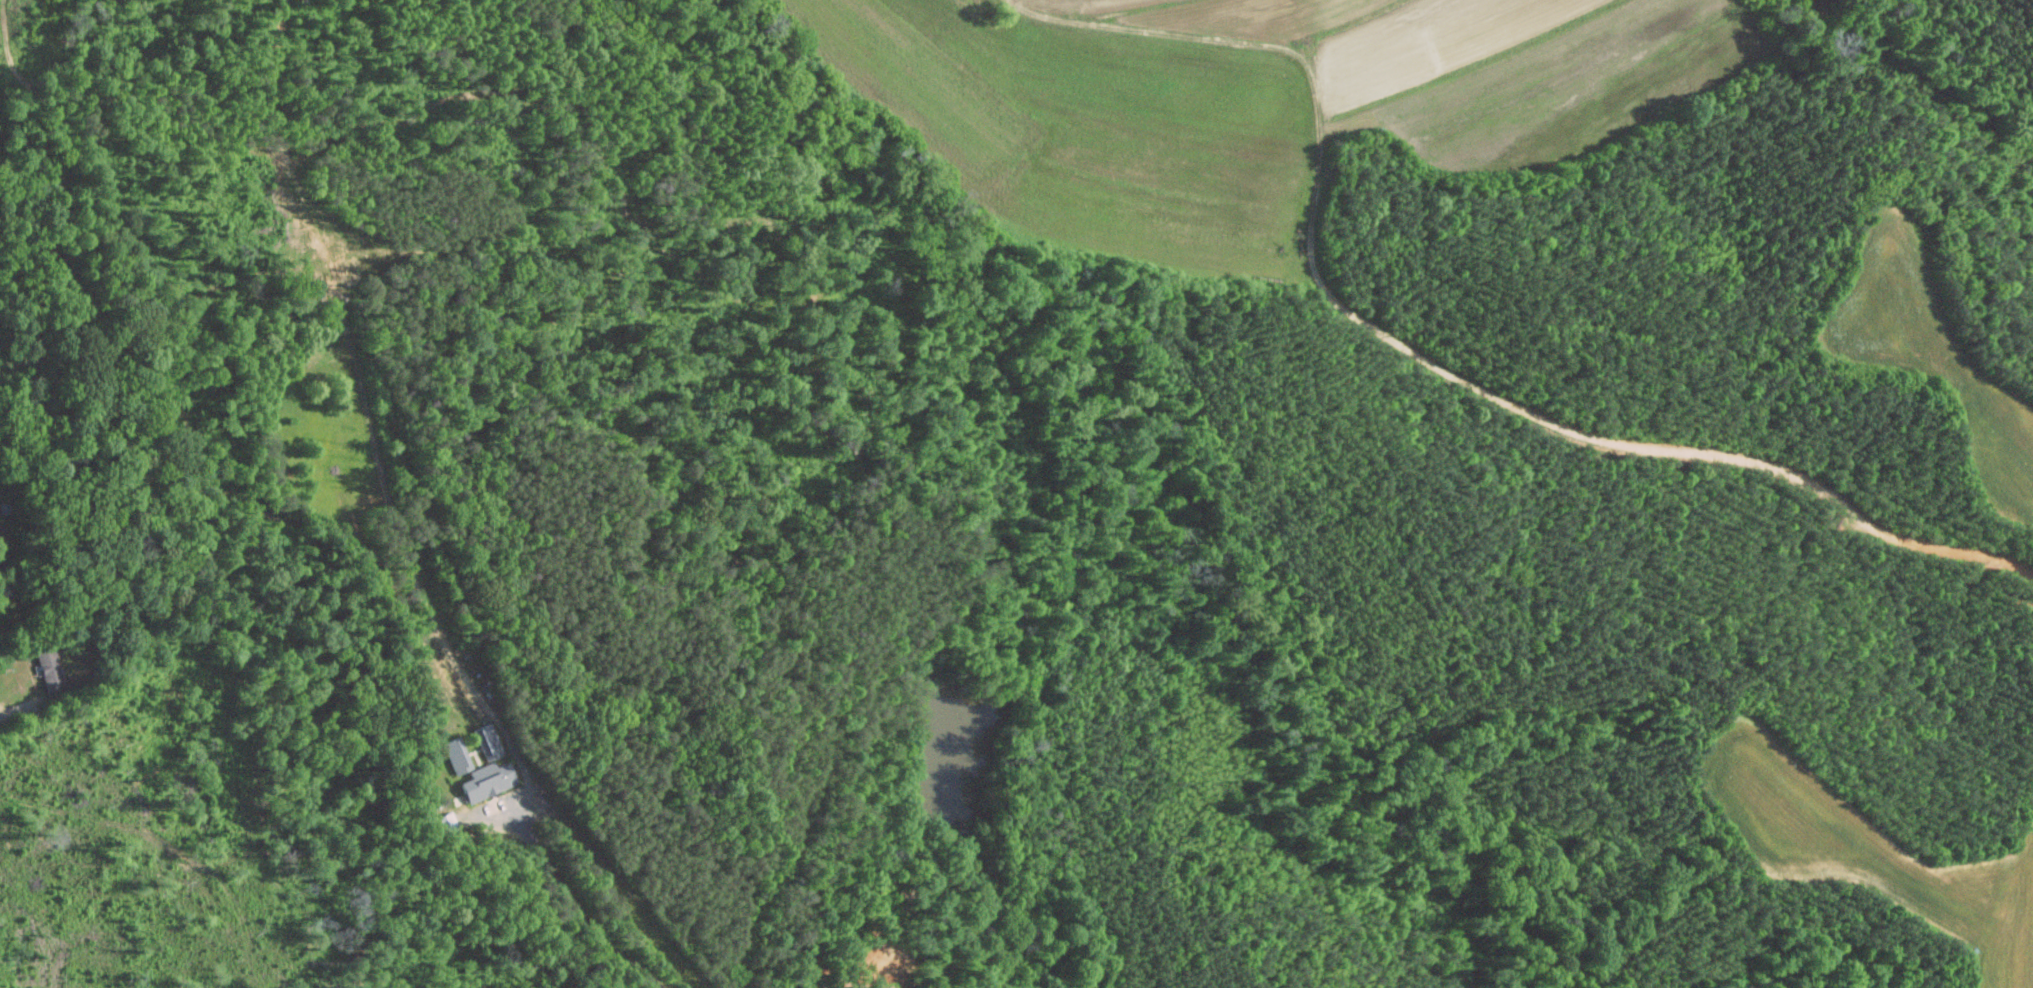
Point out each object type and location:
building: (48, 665)
road: (14, 712)
building: (488, 741)
building: (457, 755)
building: (486, 780)
road: (578, 906)

